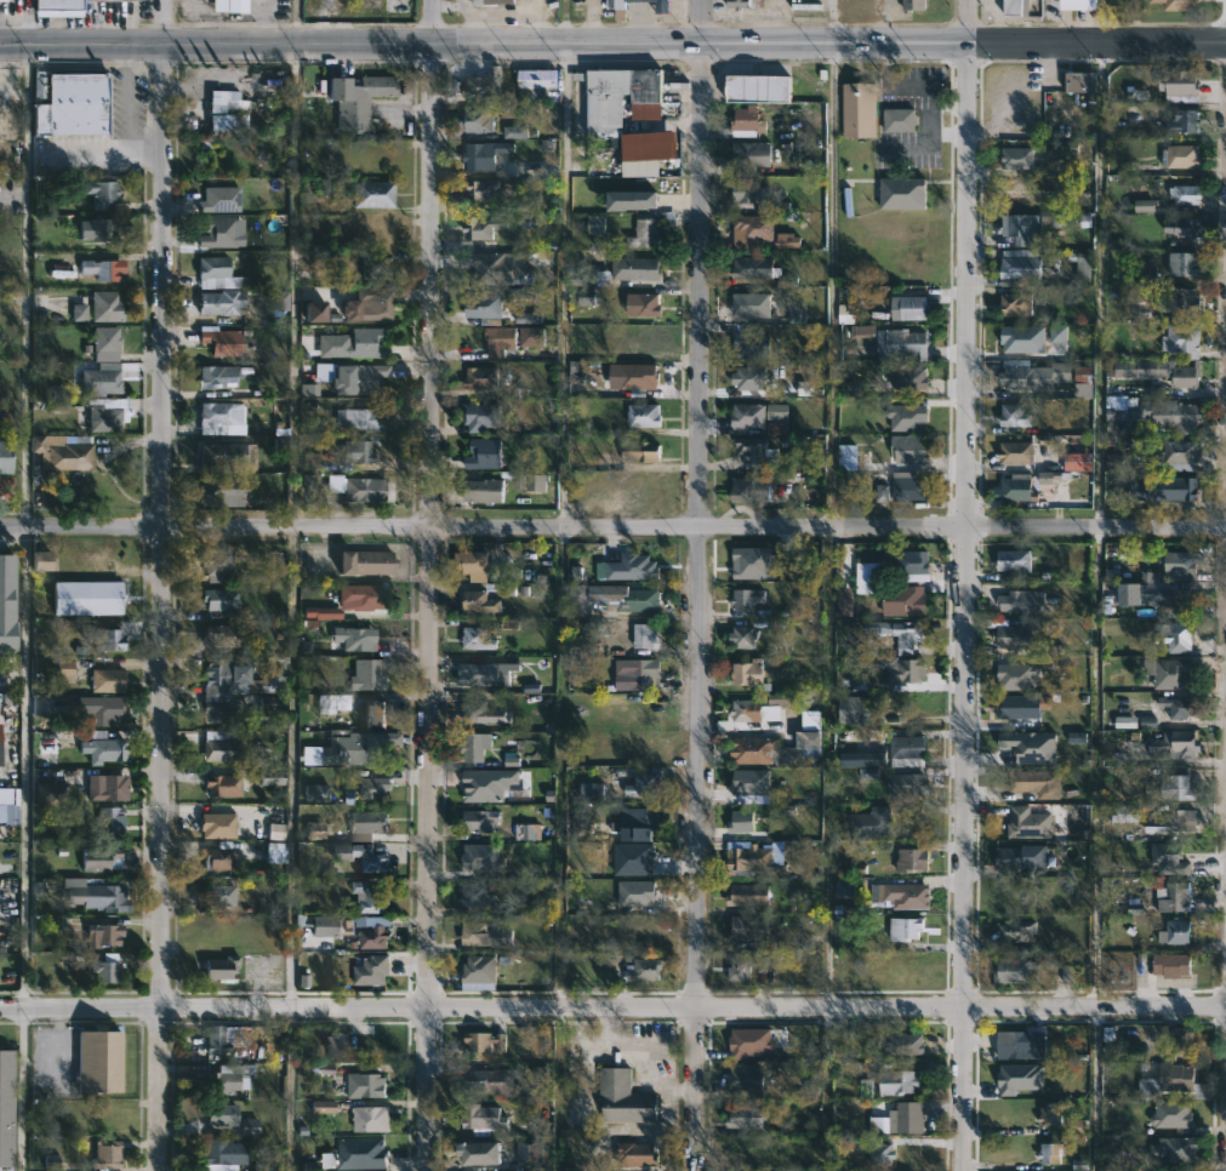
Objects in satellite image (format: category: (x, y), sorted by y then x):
building: (2, 0)
building: (492, 2)
building: (746, 4)
building: (1074, 4)
building: (1175, 4)
building: (58, 5)
building: (238, 5)
building: (665, 5)
building: (914, 5)
building: (1015, 7)
road: (27, 22)
road: (568, 22)
road: (832, 22)
road: (612, 44)
building: (536, 79)
building: (1079, 81)
building: (1177, 82)
building: (485, 85)
building: (759, 88)
building: (618, 96)
road: (125, 98)
building: (358, 98)
building: (226, 101)
building: (73, 105)
building: (861, 110)
building: (10, 115)
building: (477, 120)
building: (900, 120)
building: (228, 121)
building: (1182, 121)
building: (745, 124)
road: (106, 154)
building: (751, 154)
building: (485, 155)
building: (1182, 156)
building: (1019, 159)
building: (484, 190)
building: (102, 193)
building: (900, 193)
building: (373, 194)
building: (753, 194)
building: (1184, 194)
building: (219, 199)
building: (485, 228)
building: (1021, 228)
building: (101, 229)
building: (1179, 229)
building: (651, 230)
building: (753, 230)
building: (218, 233)
building: (1020, 264)
building: (1184, 264)
building: (375, 265)
building: (494, 268)
building: (755, 268)
building: (102, 269)
building: (644, 269)
building: (1146, 273)
building: (217, 274)
road: (565, 286)
road: (1099, 286)
building: (1184, 298)
building: (222, 302)
building: (643, 305)
building: (752, 305)
building: (1015, 305)
building: (106, 307)
building: (486, 307)
building: (914, 308)
building: (377, 310)
building: (1177, 338)
building: (107, 341)
building: (500, 341)
building: (222, 342)
building: (1013, 342)
building: (364, 344)
building: (903, 344)
building: (1157, 371)
building: (1031, 375)
building: (211, 377)
building: (911, 377)
building: (367, 378)
building: (481, 378)
building: (752, 378)
building: (101, 382)
building: (1080, 382)
building: (219, 413)
building: (106, 415)
building: (757, 415)
building: (359, 416)
building: (1016, 416)
building: (1173, 416)
building: (483, 417)
building: (646, 417)
building: (911, 450)
building: (65, 451)
building: (358, 452)
building: (643, 452)
building: (752, 452)
building: (1014, 453)
building: (485, 455)
building: (1176, 456)
building: (6, 457)
building: (227, 458)
building: (846, 459)
building: (907, 486)
building: (358, 489)
building: (483, 489)
building: (749, 490)
building: (1169, 490)
building: (222, 491)
building: (1014, 491)
road: (828, 525)
road: (24, 526)
road: (293, 527)
road: (612, 530)
building: (1013, 559)
building: (367, 560)
building: (41, 561)
building: (1177, 562)
building: (912, 565)
building: (218, 566)
building: (475, 566)
building: (633, 567)
road: (430, 584)
road: (702, 584)
road: (966, 584)
road: (164, 585)
building: (1145, 589)
building: (87, 599)
building: (221, 600)
building: (746, 600)
building: (905, 600)
building: (349, 601)
building: (640, 601)
building: (1022, 601)
building: (1182, 601)
building: (481, 602)
building: (578, 604)
building: (8, 605)
building: (900, 634)
building: (741, 635)
building: (1009, 635)
building: (1174, 635)
building: (646, 636)
building: (228, 638)
building: (478, 639)
building: (110, 640)
building: (357, 640)
building: (64, 670)
building: (908, 670)
building: (481, 673)
building: (747, 673)
building: (1165, 673)
building: (644, 674)
building: (367, 676)
building: (108, 681)
building: (224, 691)
building: (1016, 707)
building: (1181, 708)
building: (102, 709)
building: (742, 709)
building: (856, 710)
building: (483, 713)
building: (377, 714)
building: (47, 742)
building: (1173, 744)
building: (477, 746)
building: (906, 746)
building: (1011, 747)
building: (802, 748)
building: (353, 749)
building: (751, 749)
building: (102, 750)
building: (222, 750)
building: (1, 752)
building: (861, 758)
road: (559, 769)
road: (1096, 770)
building: (1039, 784)
building: (223, 786)
building: (641, 786)
building: (905, 786)
building: (106, 787)
building: (1171, 788)
building: (375, 789)
building: (52, 793)
building: (1127, 813)
building: (109, 821)
building: (481, 821)
building: (742, 822)
building: (633, 823)
building: (1026, 823)
building: (1175, 823)
building: (873, 824)
building: (367, 826)
building: (275, 853)
building: (358, 856)
building: (748, 856)
building: (219, 858)
building: (1015, 858)
building: (1167, 858)
building: (99, 859)
building: (911, 859)
building: (481, 861)
building: (96, 895)
building: (902, 895)
building: (478, 896)
building: (749, 896)
building: (1013, 896)
building: (219, 897)
building: (1174, 898)
building: (371, 899)
building: (325, 925)
building: (751, 929)
building: (902, 929)
building: (1014, 931)
building: (1175, 931)
building: (221, 933)
building: (102, 935)
building: (474, 935)
building: (376, 937)
building: (742, 965)
building: (1170, 965)
building: (905, 966)
building: (484, 969)
building: (645, 969)
building: (104, 970)
building: (226, 970)
building: (375, 970)
building: (1011, 971)
road: (612, 1009)
building: (219, 1039)
building: (486, 1040)
building: (1185, 1040)
building: (905, 1043)
building: (333, 1045)
building: (1010, 1045)
building: (101, 1059)
building: (232, 1074)
building: (747, 1076)
building: (1179, 1076)
building: (492, 1080)
building: (900, 1081)
building: (1011, 1084)
building: (366, 1085)
road: (21, 1090)
road: (825, 1090)
building: (625, 1097)
building: (6, 1109)
building: (218, 1113)
building: (1049, 1113)
building: (481, 1116)
building: (747, 1116)
building: (372, 1118)
building: (901, 1119)
building: (108, 1124)
building: (1175, 1149)
building: (361, 1152)
building: (484, 1152)
building: (530, 1152)
building: (879, 1152)
building: (1049, 1152)
building: (107, 1154)
building: (224, 1154)
building: (632, 1154)

